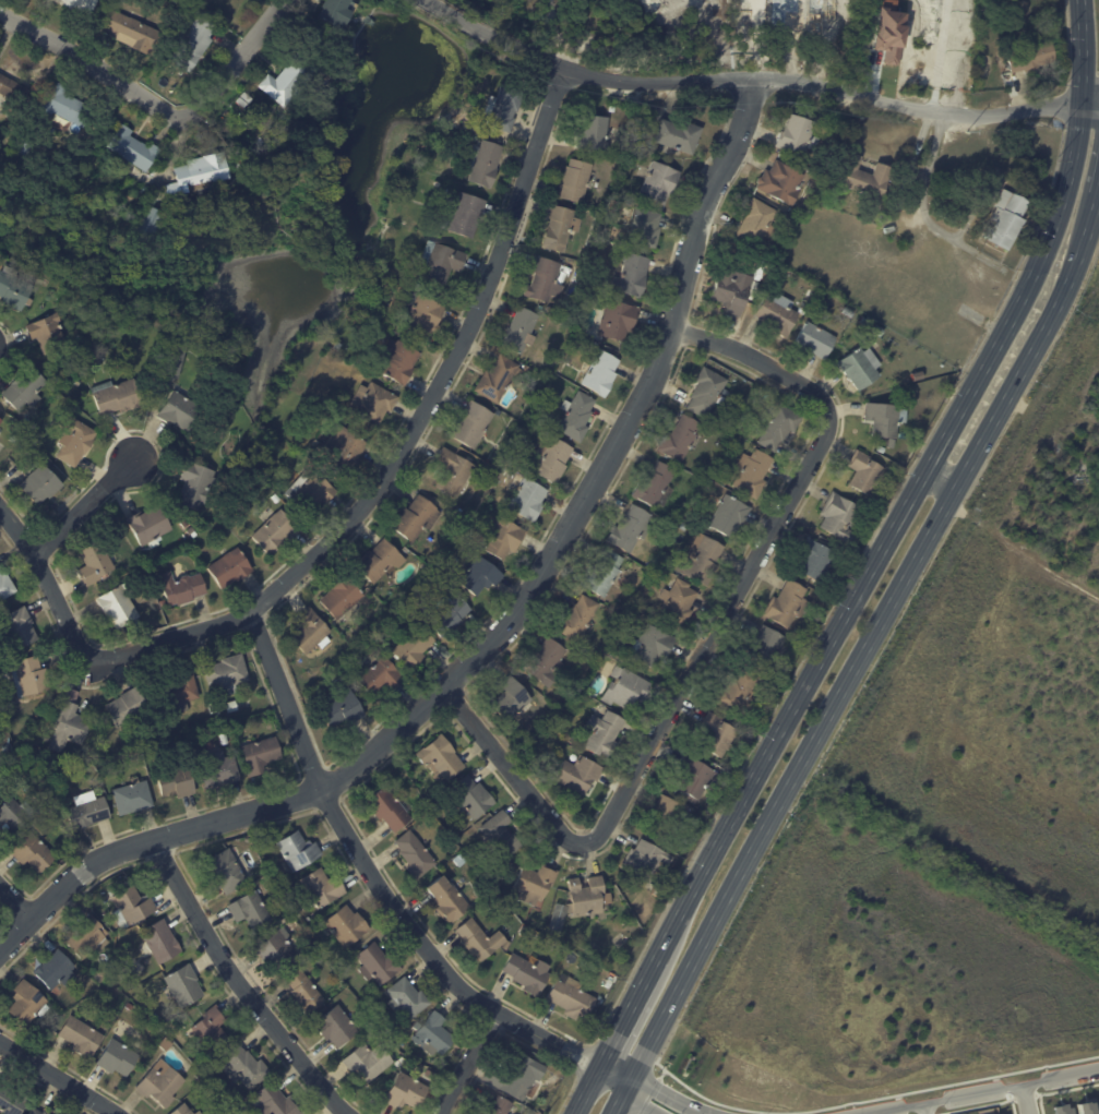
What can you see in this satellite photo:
building: (83, 5)
building: (336, 12)
building: (133, 31)
building: (194, 43)
road: (1082, 52)
building: (1032, 58)
building: (1004, 61)
road: (745, 76)
building: (290, 80)
building: (11, 89)
building: (244, 100)
building: (63, 105)
road: (155, 106)
building: (506, 107)
road: (1089, 107)
building: (613, 108)
building: (596, 133)
building: (679, 135)
building: (799, 136)
building: (26, 148)
building: (132, 148)
building: (486, 163)
building: (200, 176)
building: (867, 177)
building: (578, 180)
building: (660, 181)
building: (783, 182)
road: (925, 183)
road: (1098, 191)
building: (789, 209)
building: (465, 215)
building: (1008, 219)
building: (153, 220)
building: (758, 223)
building: (647, 227)
building: (562, 228)
building: (442, 261)
building: (633, 276)
building: (547, 279)
building: (418, 287)
building: (14, 288)
building: (733, 290)
building: (29, 302)
building: (552, 309)
building: (802, 311)
building: (849, 312)
building: (779, 313)
building: (425, 314)
building: (618, 320)
building: (867, 322)
building: (522, 331)
building: (880, 331)
building: (48, 333)
building: (79, 338)
building: (816, 339)
building: (337, 346)
building: (174, 360)
building: (398, 361)
building: (528, 368)
building: (859, 368)
building: (601, 373)
building: (498, 379)
building: (25, 388)
building: (707, 392)
building: (117, 397)
building: (373, 403)
building: (180, 411)
building: (577, 416)
building: (0, 420)
building: (886, 420)
building: (473, 424)
building: (728, 424)
building: (740, 424)
building: (780, 428)
building: (1, 432)
building: (905, 435)
building: (681, 439)
building: (14, 440)
building: (75, 442)
building: (345, 448)
building: (883, 450)
building: (551, 459)
building: (455, 471)
building: (754, 472)
building: (869, 472)
road: (943, 477)
building: (709, 481)
building: (40, 486)
building: (199, 486)
building: (657, 486)
building: (475, 489)
building: (313, 490)
building: (527, 498)
building: (276, 499)
building: (452, 499)
road: (87, 507)
road: (353, 516)
building: (731, 516)
building: (418, 518)
building: (841, 518)
building: (150, 526)
building: (685, 527)
building: (632, 529)
building: (193, 531)
building: (275, 532)
building: (505, 538)
building: (703, 560)
building: (817, 560)
building: (381, 561)
building: (95, 564)
building: (230, 568)
building: (605, 574)
building: (480, 575)
building: (176, 576)
building: (142, 578)
building: (5, 586)
building: (180, 589)
building: (343, 598)
building: (679, 602)
building: (789, 604)
building: (120, 606)
building: (447, 615)
road: (846, 618)
building: (580, 619)
building: (390, 624)
road: (503, 626)
building: (19, 628)
building: (312, 632)
building: (653, 644)
road: (704, 645)
building: (414, 646)
building: (764, 647)
building: (585, 651)
road: (862, 658)
building: (547, 661)
building: (227, 674)
building: (381, 676)
building: (29, 678)
building: (769, 684)
building: (626, 690)
building: (179, 693)
building: (740, 694)
building: (514, 700)
building: (232, 706)
building: (129, 708)
building: (214, 708)
building: (563, 708)
building: (343, 710)
building: (70, 723)
building: (110, 729)
building: (605, 734)
building: (718, 735)
building: (573, 740)
building: (94, 750)
building: (260, 755)
building: (442, 758)
building: (218, 770)
building: (580, 775)
building: (697, 780)
building: (177, 782)
building: (3, 784)
building: (133, 798)
building: (471, 798)
building: (390, 810)
building: (87, 812)
building: (13, 815)
building: (672, 817)
building: (502, 836)
building: (464, 839)
building: (299, 850)
building: (34, 853)
building: (416, 855)
building: (462, 861)
building: (647, 861)
road: (367, 864)
building: (226, 870)
building: (535, 885)
building: (323, 888)
building: (290, 891)
building: (660, 894)
road: (14, 897)
building: (588, 897)
building: (447, 900)
building: (133, 905)
building: (251, 910)
building: (348, 925)
building: (524, 931)
building: (88, 938)
building: (480, 941)
building: (160, 942)
building: (279, 949)
building: (318, 959)
building: (379, 963)
building: (120, 966)
building: (57, 970)
building: (528, 974)
building: (101, 977)
building: (110, 984)
building: (610, 984)
building: (184, 985)
road: (240, 985)
building: (304, 992)
building: (408, 997)
building: (110, 999)
building: (572, 999)
building: (26, 1002)
building: (129, 1006)
building: (156, 1017)
building: (337, 1026)
building: (417, 1026)
building: (212, 1029)
building: (433, 1032)
building: (81, 1037)
building: (164, 1042)
road: (587, 1050)
building: (118, 1057)
building: (369, 1061)
building: (401, 1062)
road: (465, 1063)
building: (244, 1066)
road: (576, 1067)
building: (200, 1075)
building: (517, 1075)
road: (612, 1076)
road: (59, 1078)
building: (554, 1078)
building: (159, 1082)
building: (406, 1091)
road: (979, 1091)
building: (547, 1094)
road: (665, 1095)
building: (1098, 1095)
road: (1025, 1099)
building: (12, 1100)
road: (638, 1100)
building: (277, 1101)
building: (501, 1105)
road: (923, 1109)
building: (1064, 1109)
building: (1088, 1109)
building: (184, 1110)
building: (35, 1111)
building: (57, 1113)
building: (200, 1113)
building: (483, 1113)

